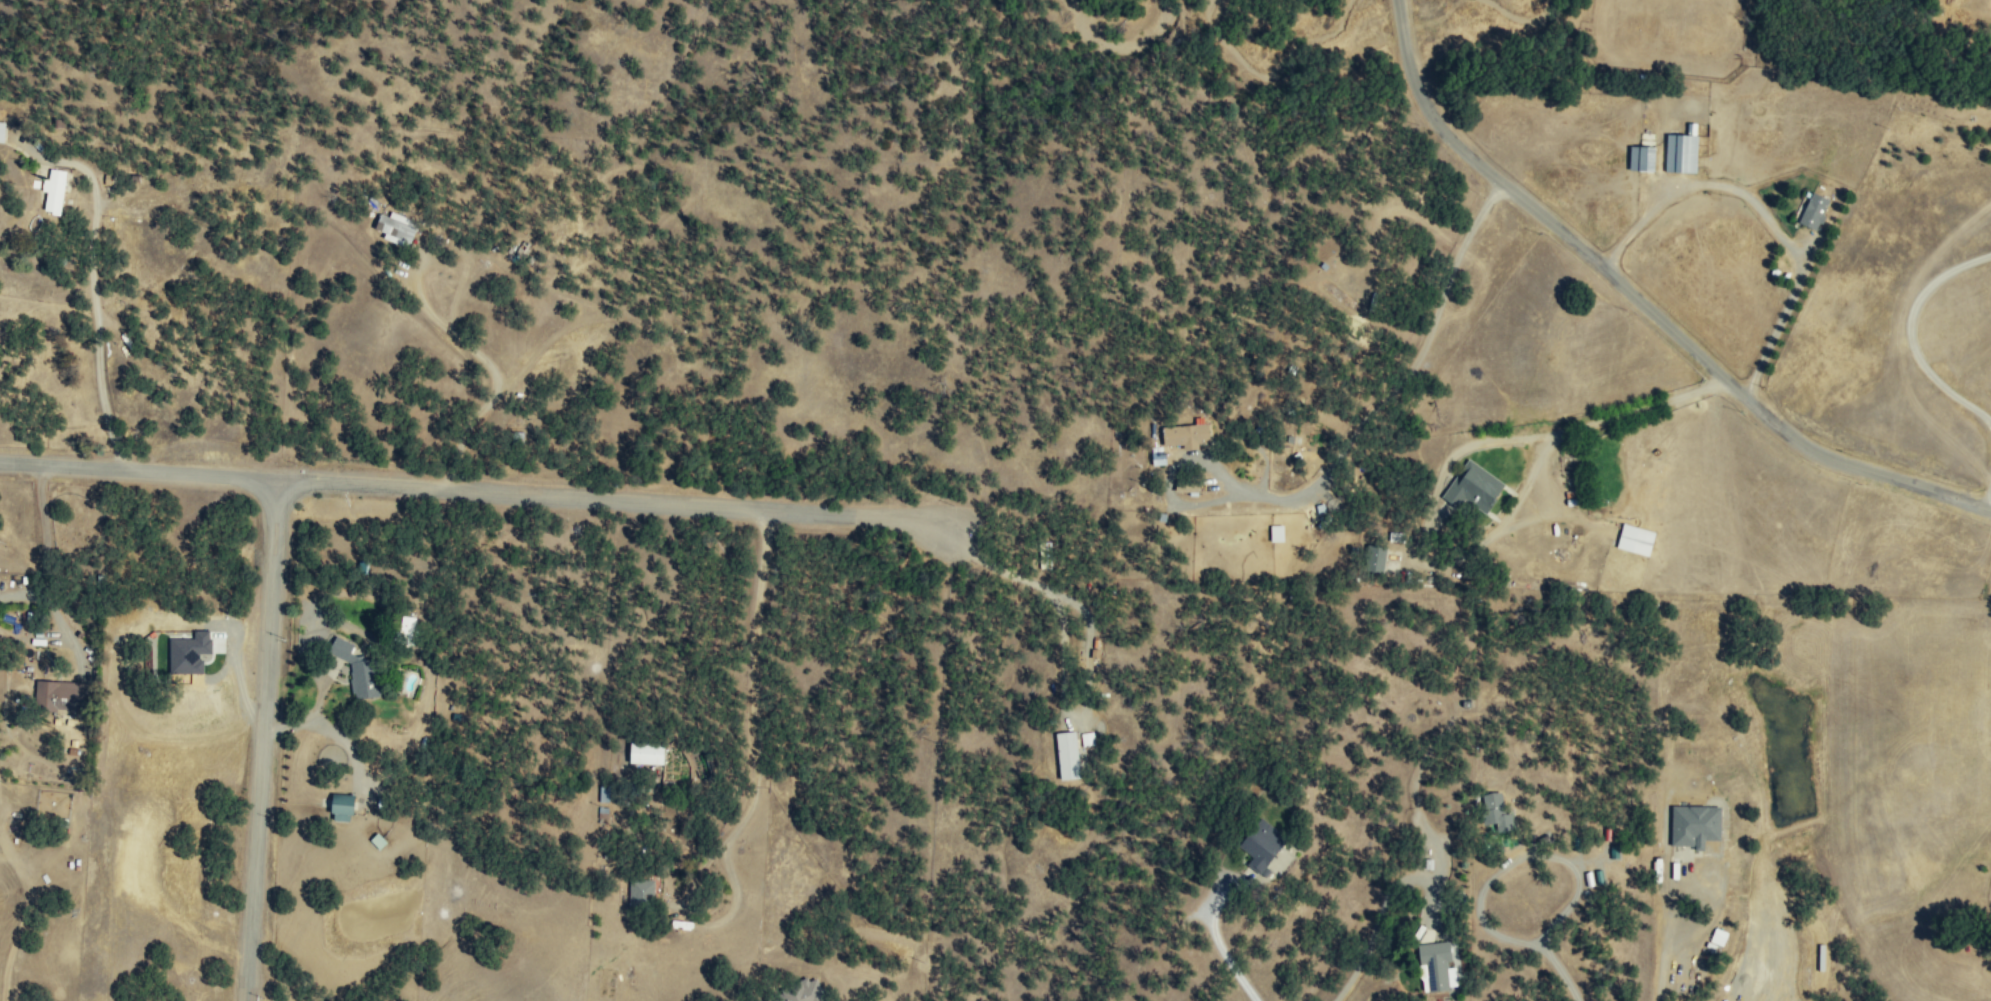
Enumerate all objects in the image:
building: (1681, 151)
building: (1641, 158)
building: (48, 190)
building: (1813, 211)
road: (1764, 213)
building: (395, 227)
road: (92, 280)
road: (1649, 302)
road: (1909, 333)
building: (1183, 435)
building: (1156, 455)
road: (1443, 479)
building: (1472, 487)
road: (483, 493)
road: (1989, 503)
building: (1276, 533)
building: (1634, 539)
building: (1377, 559)
road: (1093, 656)
building: (355, 669)
building: (58, 694)
building: (1087, 739)
road: (266, 741)
building: (644, 753)
building: (1066, 755)
building: (603, 793)
building: (340, 807)
building: (1494, 811)
building: (603, 813)
building: (1694, 825)
building: (376, 841)
building: (1259, 847)
road: (1521, 858)
building: (640, 893)
road: (1665, 934)
building: (1435, 967)
road: (1559, 970)
building: (802, 993)

